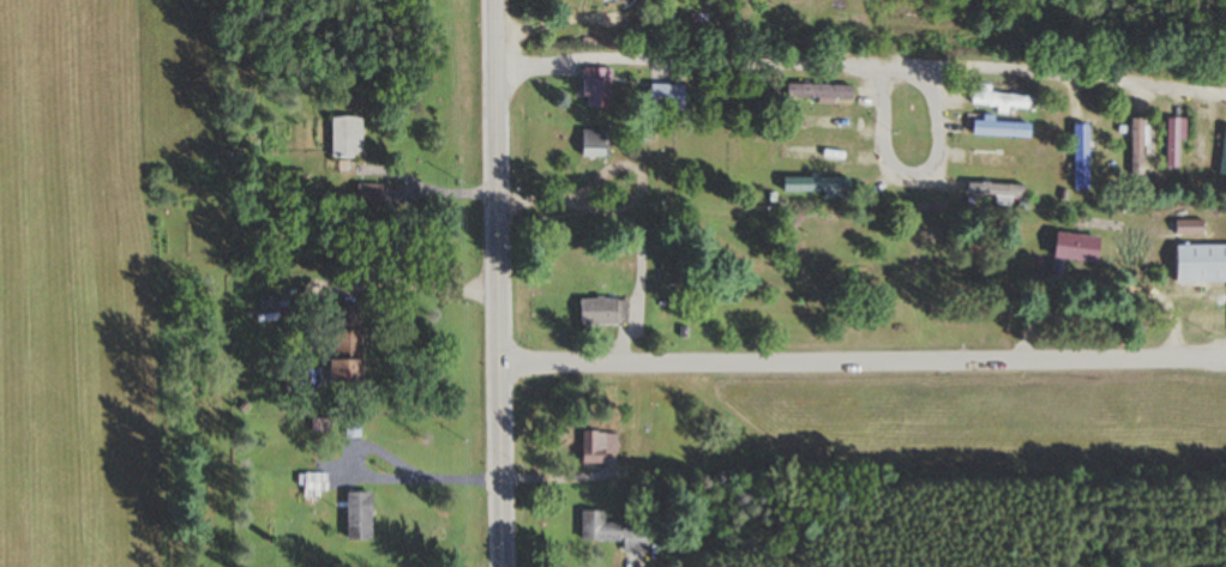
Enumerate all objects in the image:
road: (860, 65)
building: (596, 89)
building: (818, 92)
building: (667, 98)
building: (997, 99)
building: (828, 125)
building: (996, 128)
building: (344, 138)
building: (595, 143)
building: (1172, 144)
building: (1200, 149)
building: (1137, 150)
building: (811, 156)
building: (1222, 157)
building: (1080, 158)
building: (997, 162)
road: (911, 175)
building: (815, 185)
building: (997, 192)
building: (368, 197)
building: (823, 242)
building: (1075, 249)
crop: (86, 264)
building: (1200, 265)
road: (494, 283)
building: (602, 312)
building: (345, 345)
road: (860, 358)
building: (312, 485)
building: (357, 515)
building: (613, 532)

